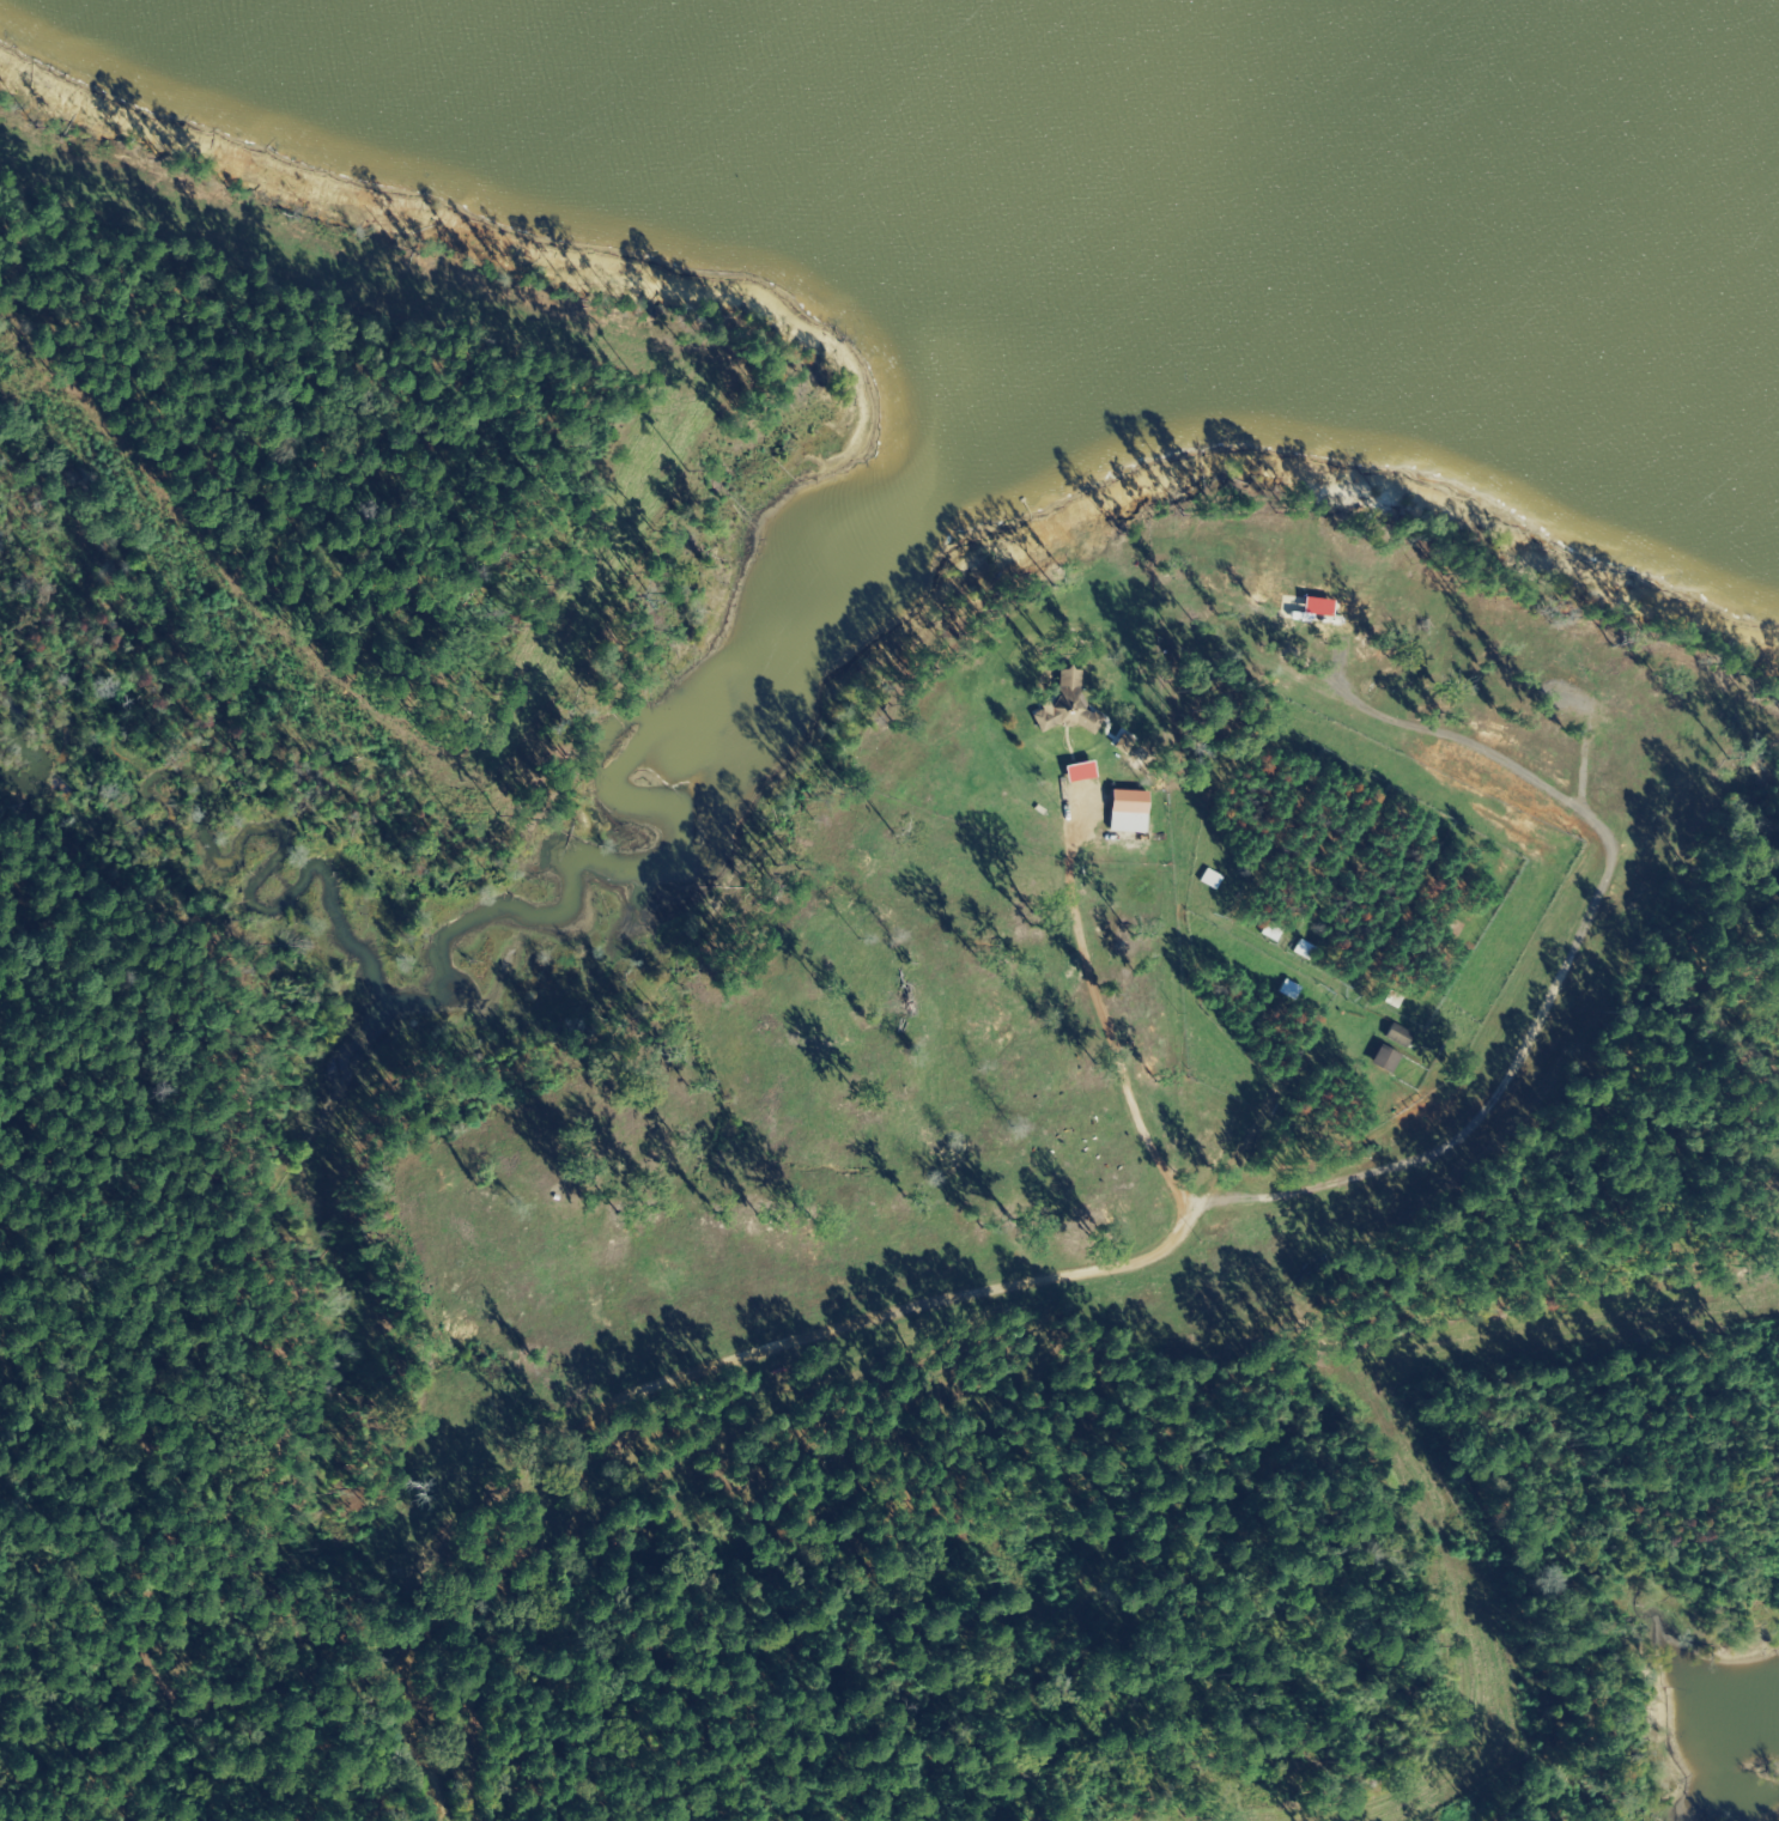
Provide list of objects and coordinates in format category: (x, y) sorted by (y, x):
building: (1323, 607)
building: (1074, 706)
building: (1129, 743)
building: (1086, 772)
building: (1134, 812)
building: (1215, 879)
building: (1403, 1036)
building: (1390, 1060)

